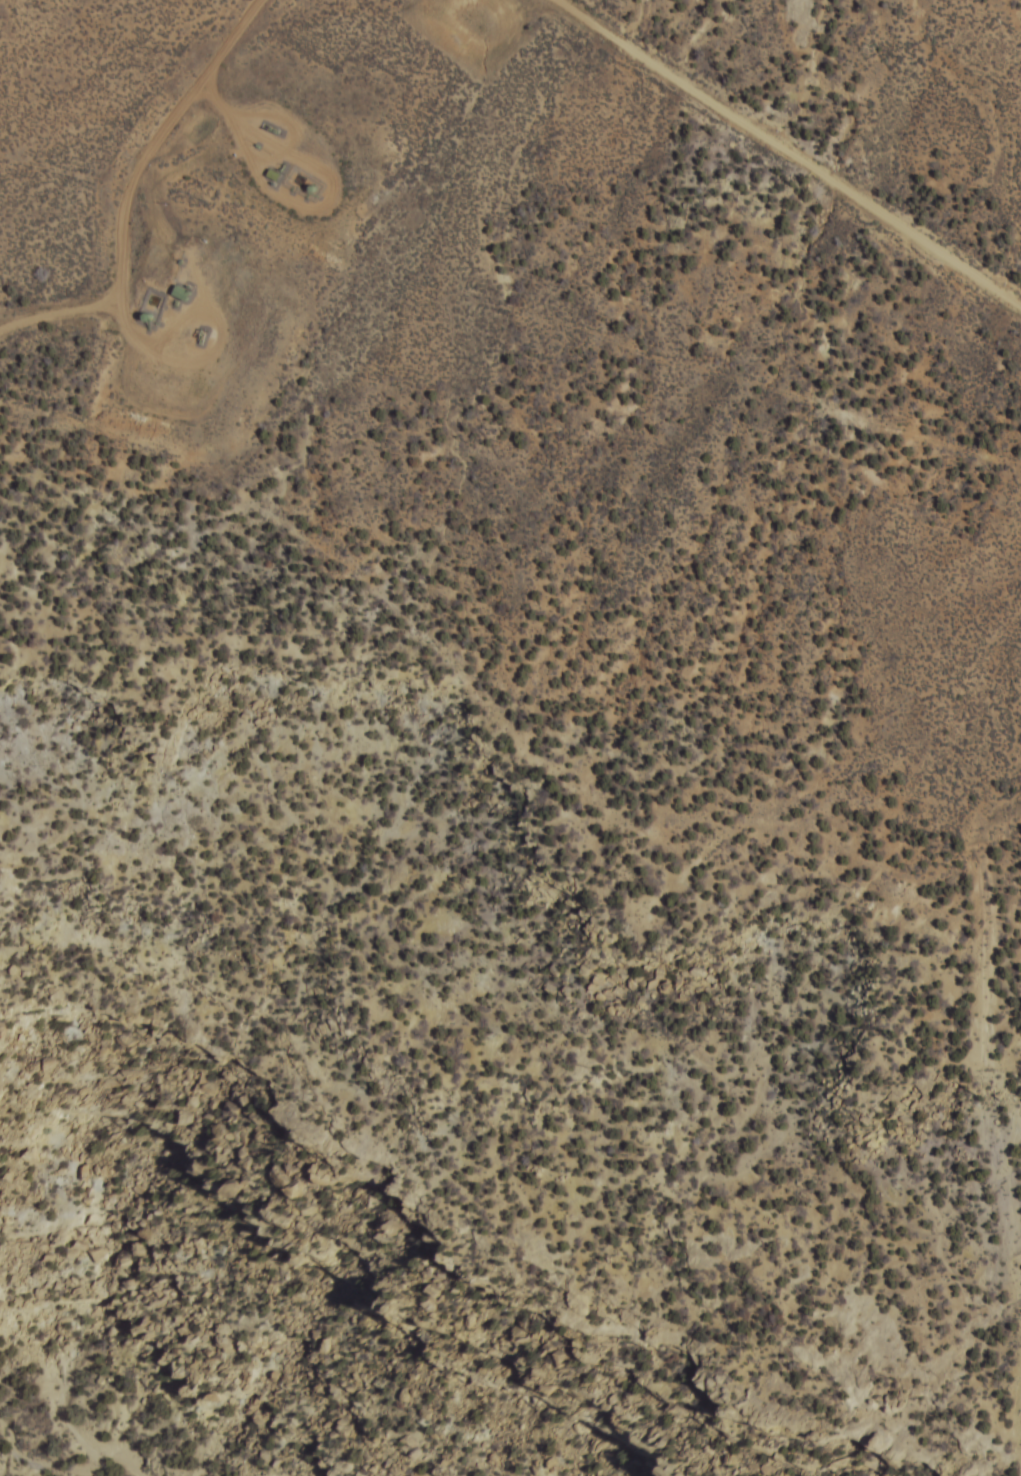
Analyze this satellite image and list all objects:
road: (229, 90)
road: (761, 178)
building: (186, 293)

